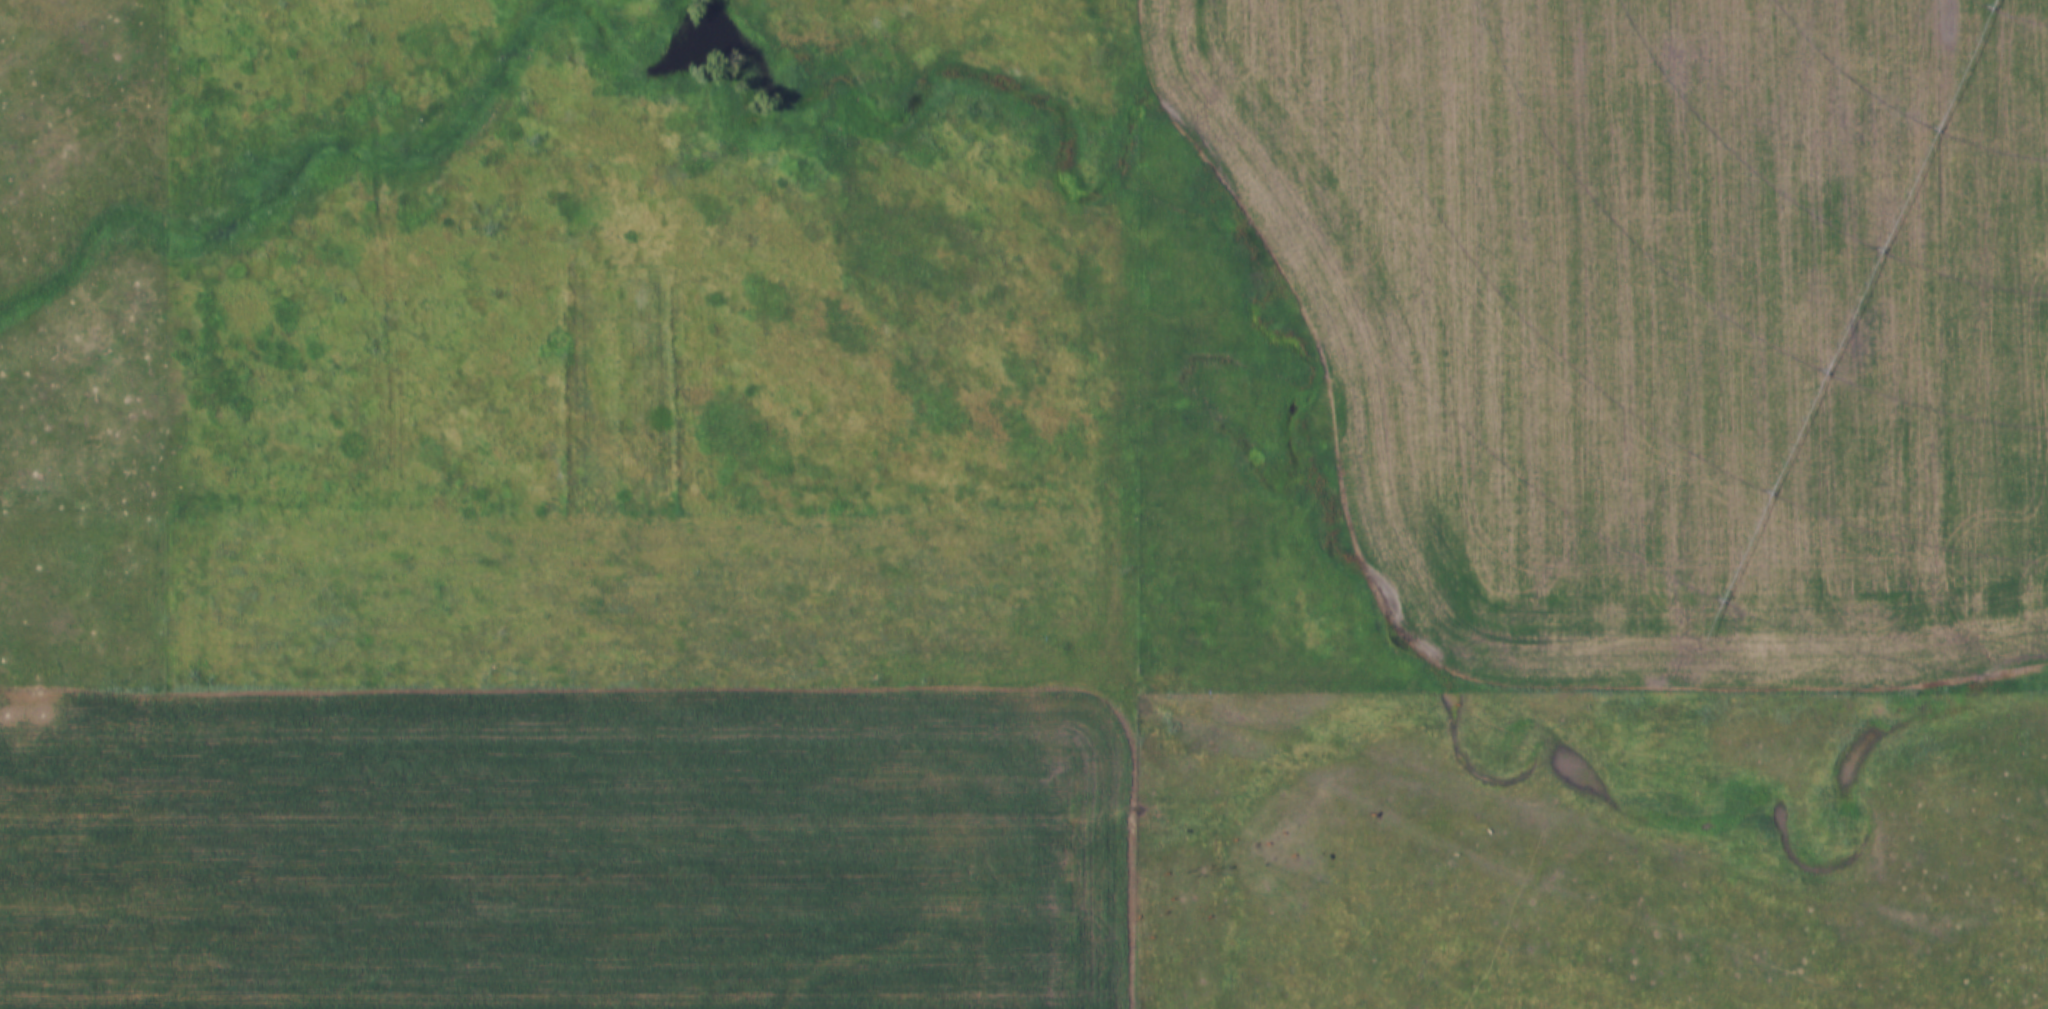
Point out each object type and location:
crop: (564, 853)

